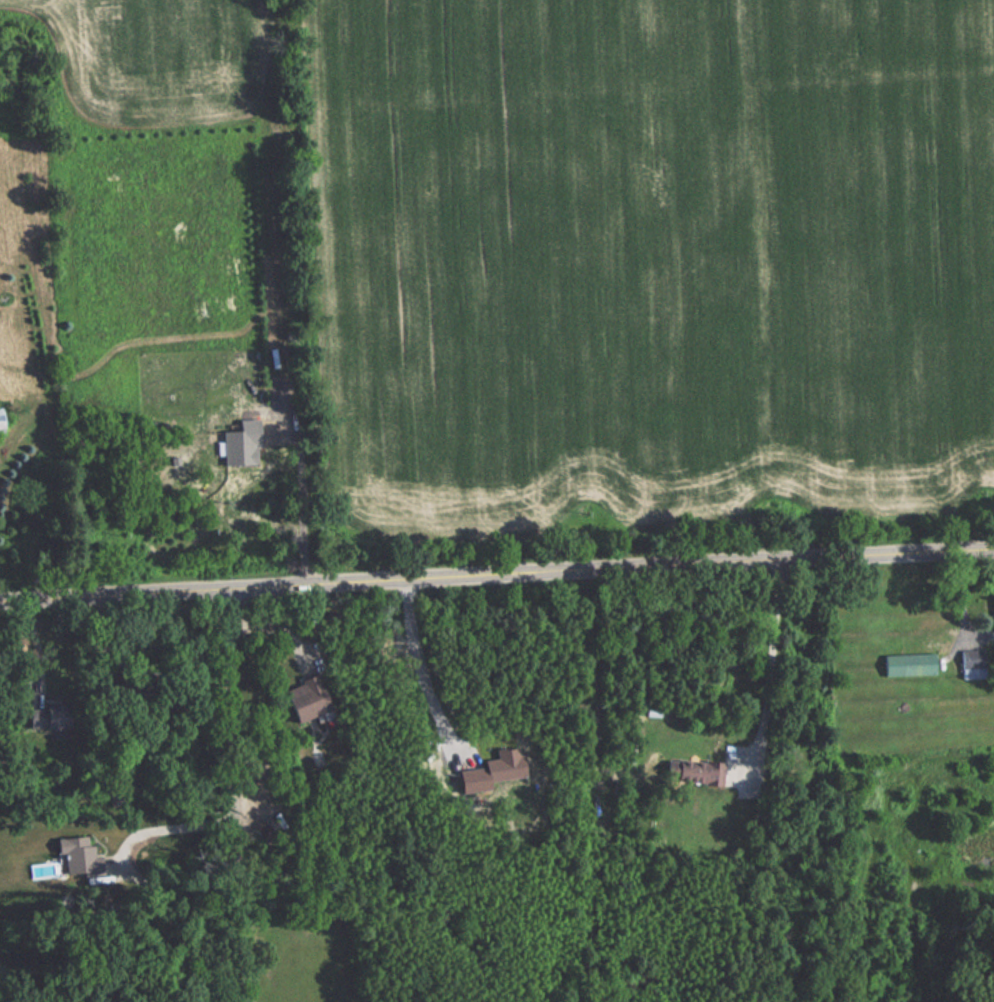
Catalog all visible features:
road: (497, 578)
road: (38, 649)
building: (916, 662)
building: (972, 663)
road: (771, 666)
road: (430, 679)
building: (306, 698)
building: (691, 772)
road: (228, 798)
road: (169, 842)

